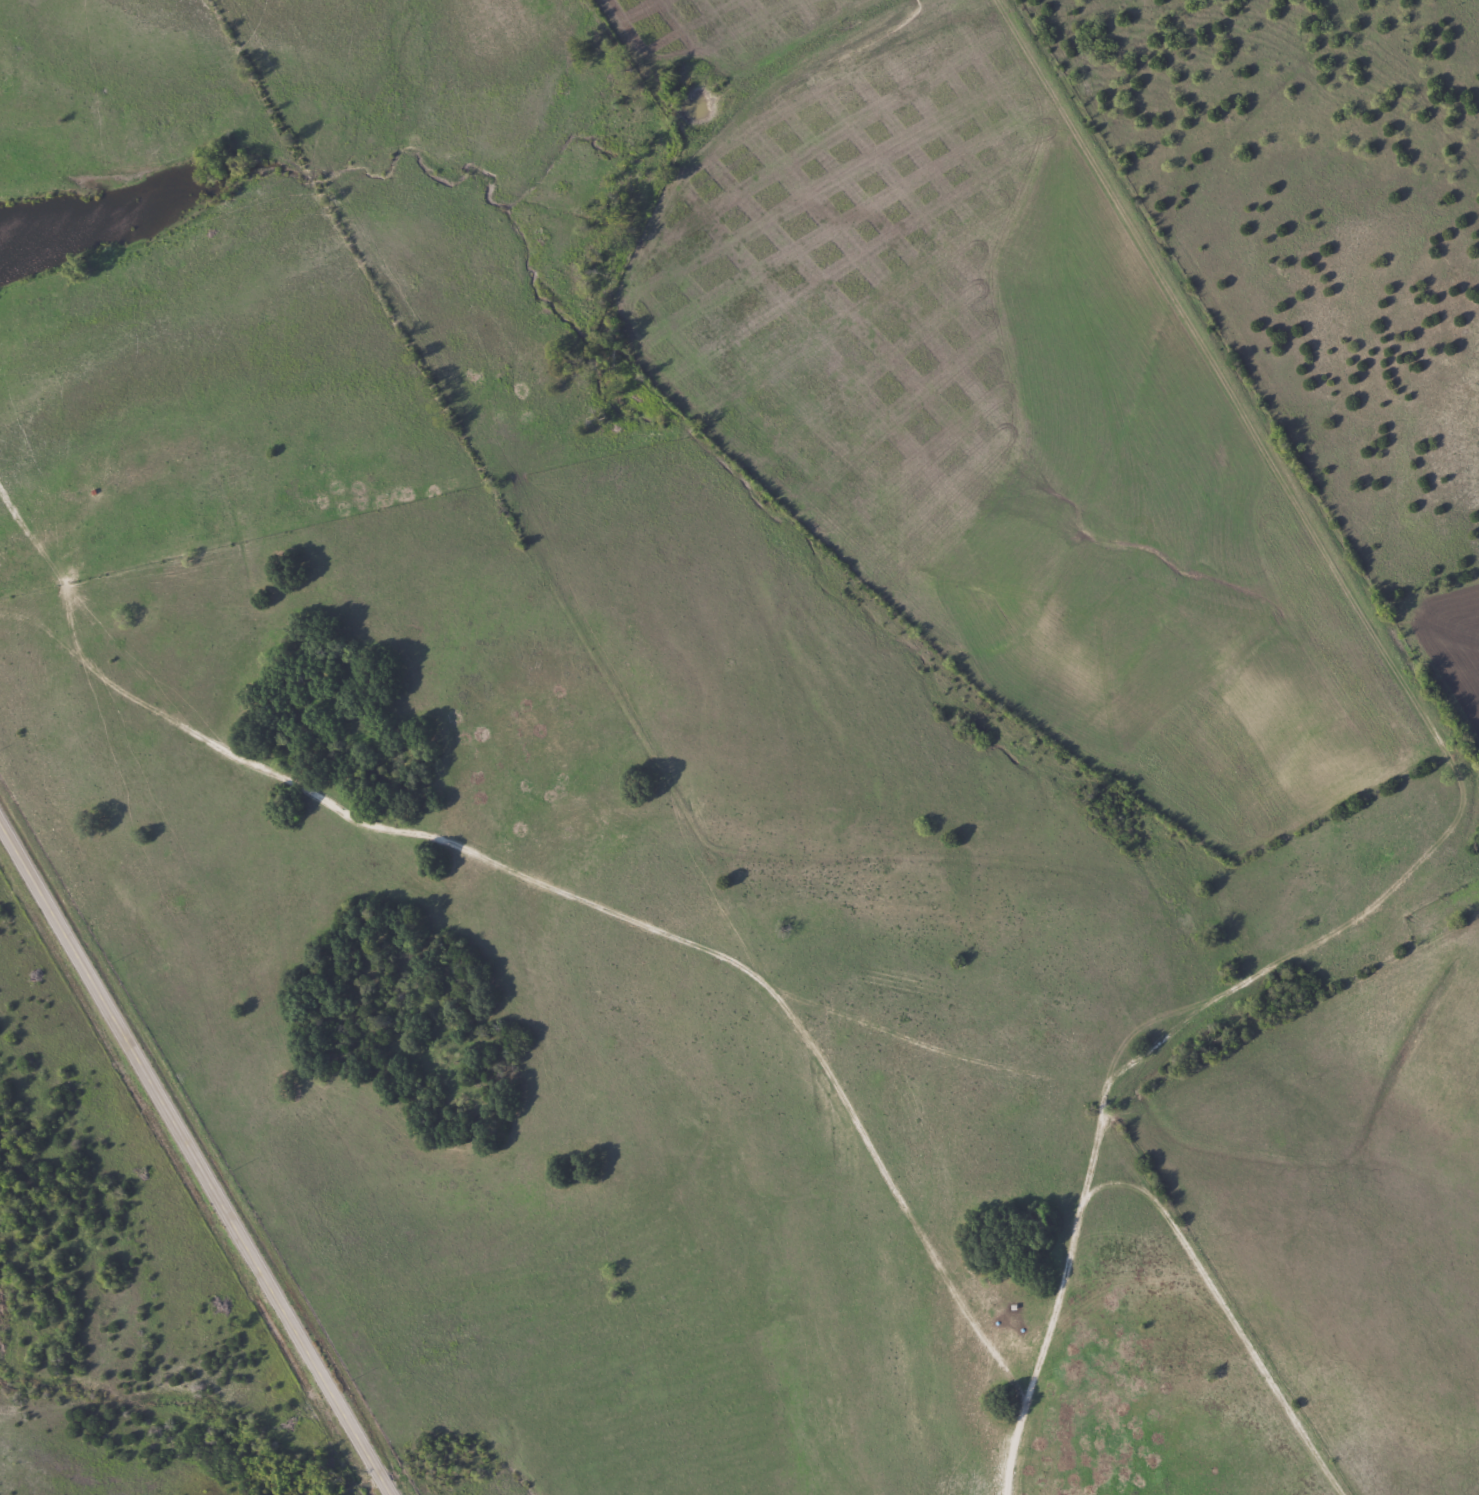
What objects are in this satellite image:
road: (200, 1149)

